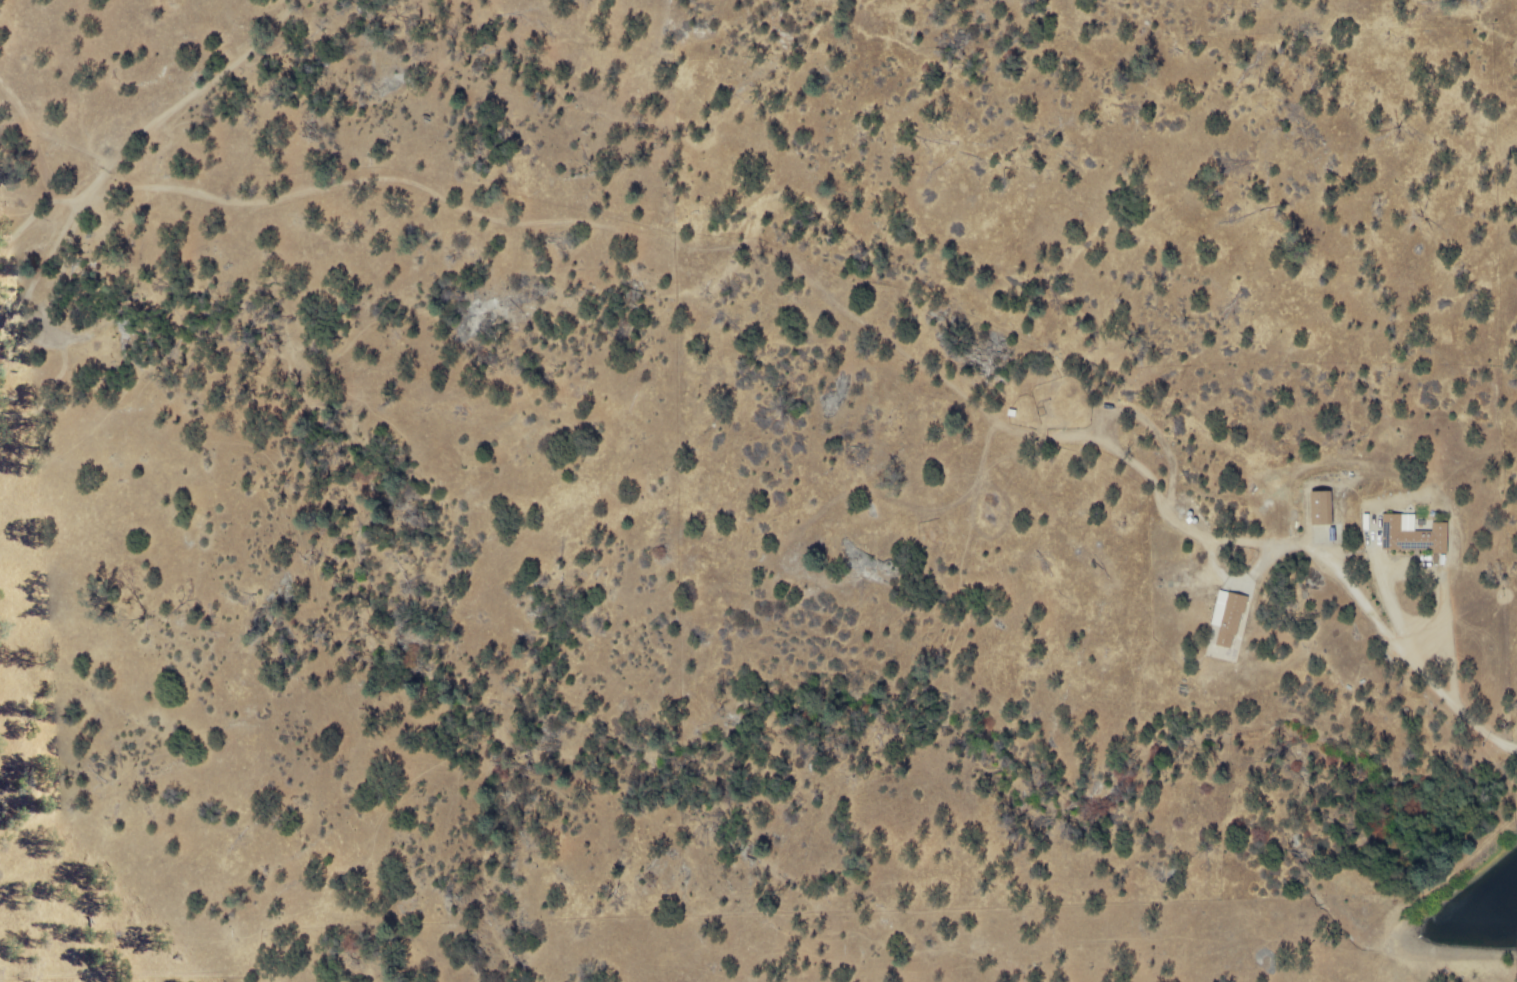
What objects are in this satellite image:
building: (1326, 509)
building: (1415, 535)
road: (1274, 547)
building: (1232, 618)

